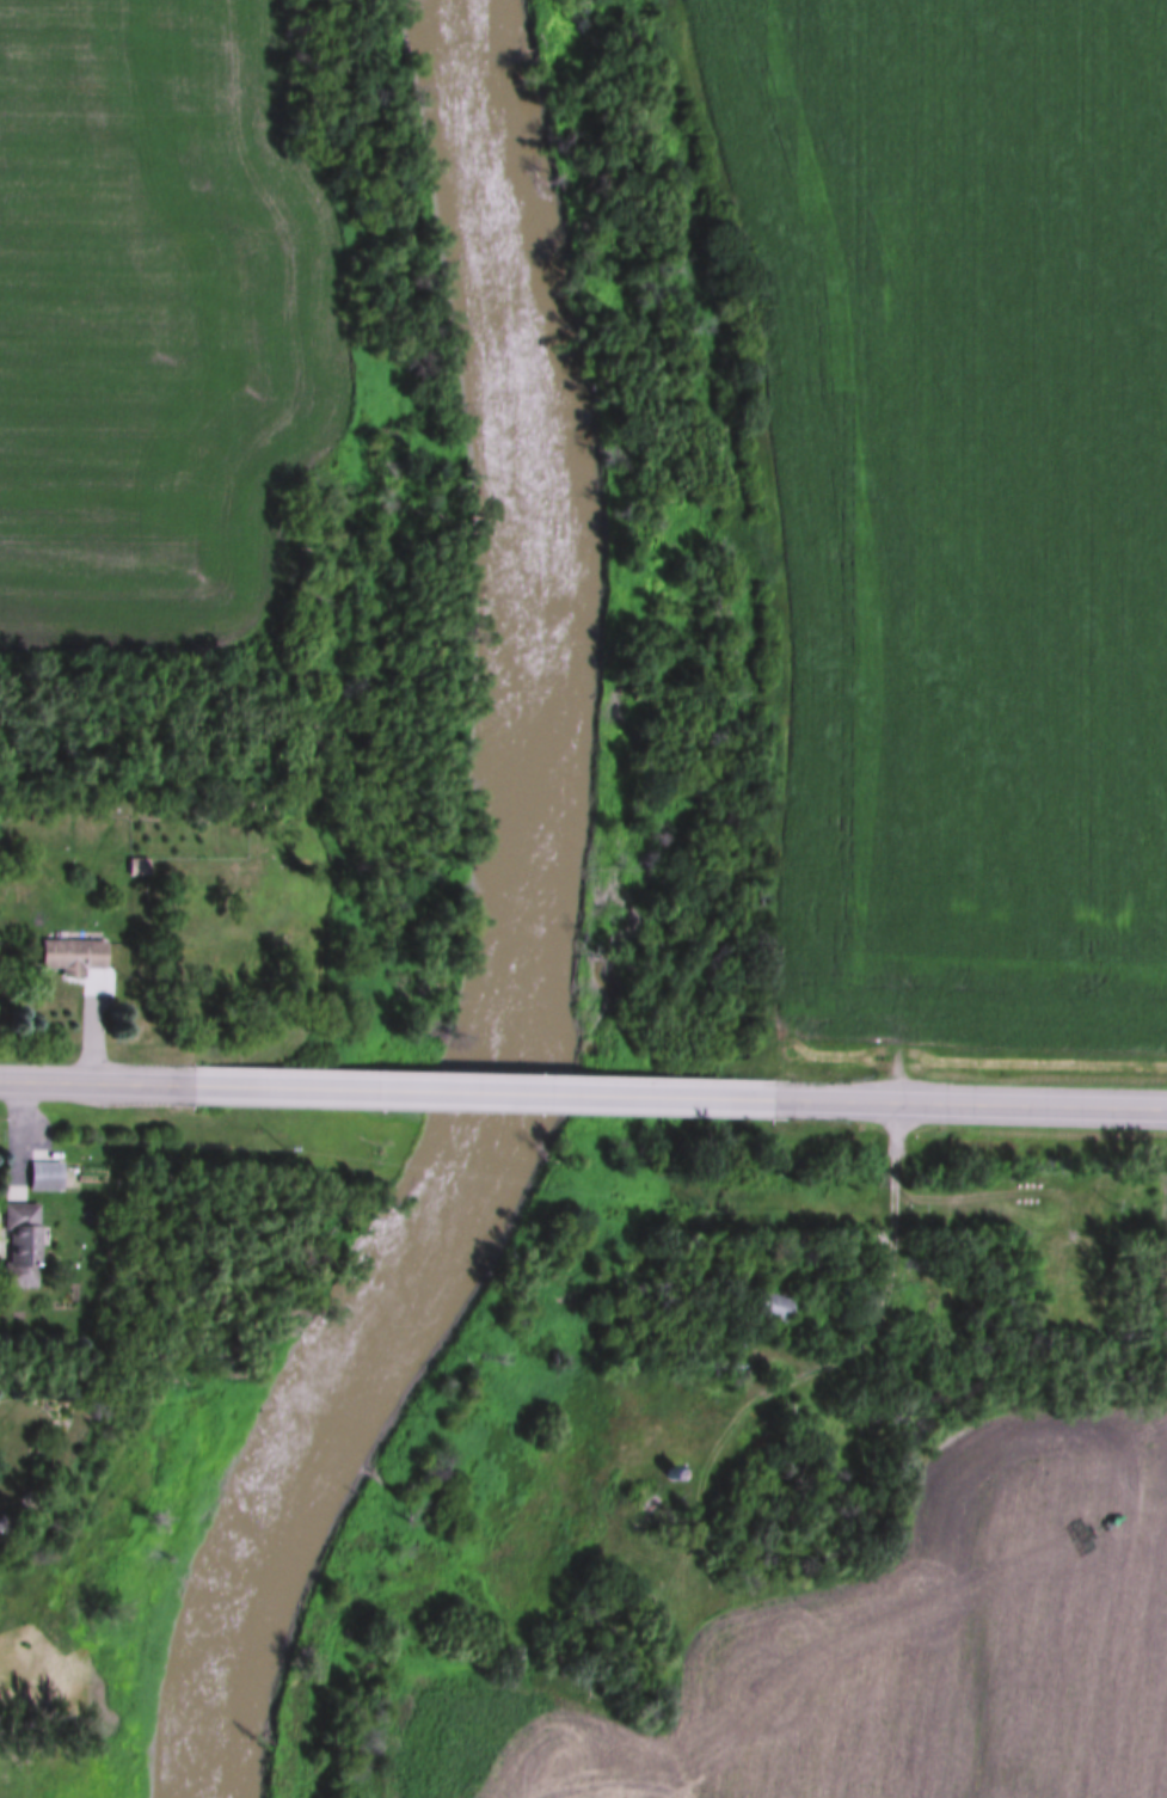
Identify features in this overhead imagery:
crop: (154, 315)
crop: (964, 504)
river: (540, 542)
building: (70, 953)
road: (94, 1080)
road: (356, 1085)
road: (647, 1093)
road: (969, 1105)
building: (43, 1173)
building: (20, 1240)
building: (772, 1302)
river: (340, 1426)
building: (670, 1471)
silo: (670, 1471)
building: (5, 1522)
crop: (889, 1649)

